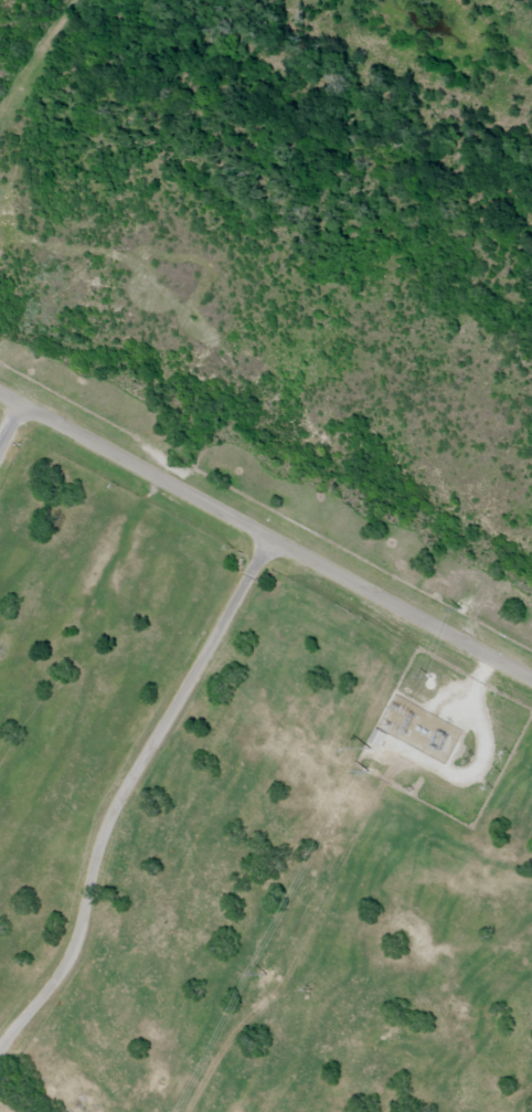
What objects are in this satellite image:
road: (35, 57)
road: (8, 402)
road: (8, 423)
road: (273, 544)
power tower: (462, 611)
power tower: (427, 675)
power substation: (443, 738)
power tower: (374, 773)
road: (121, 791)
power tower: (265, 975)

